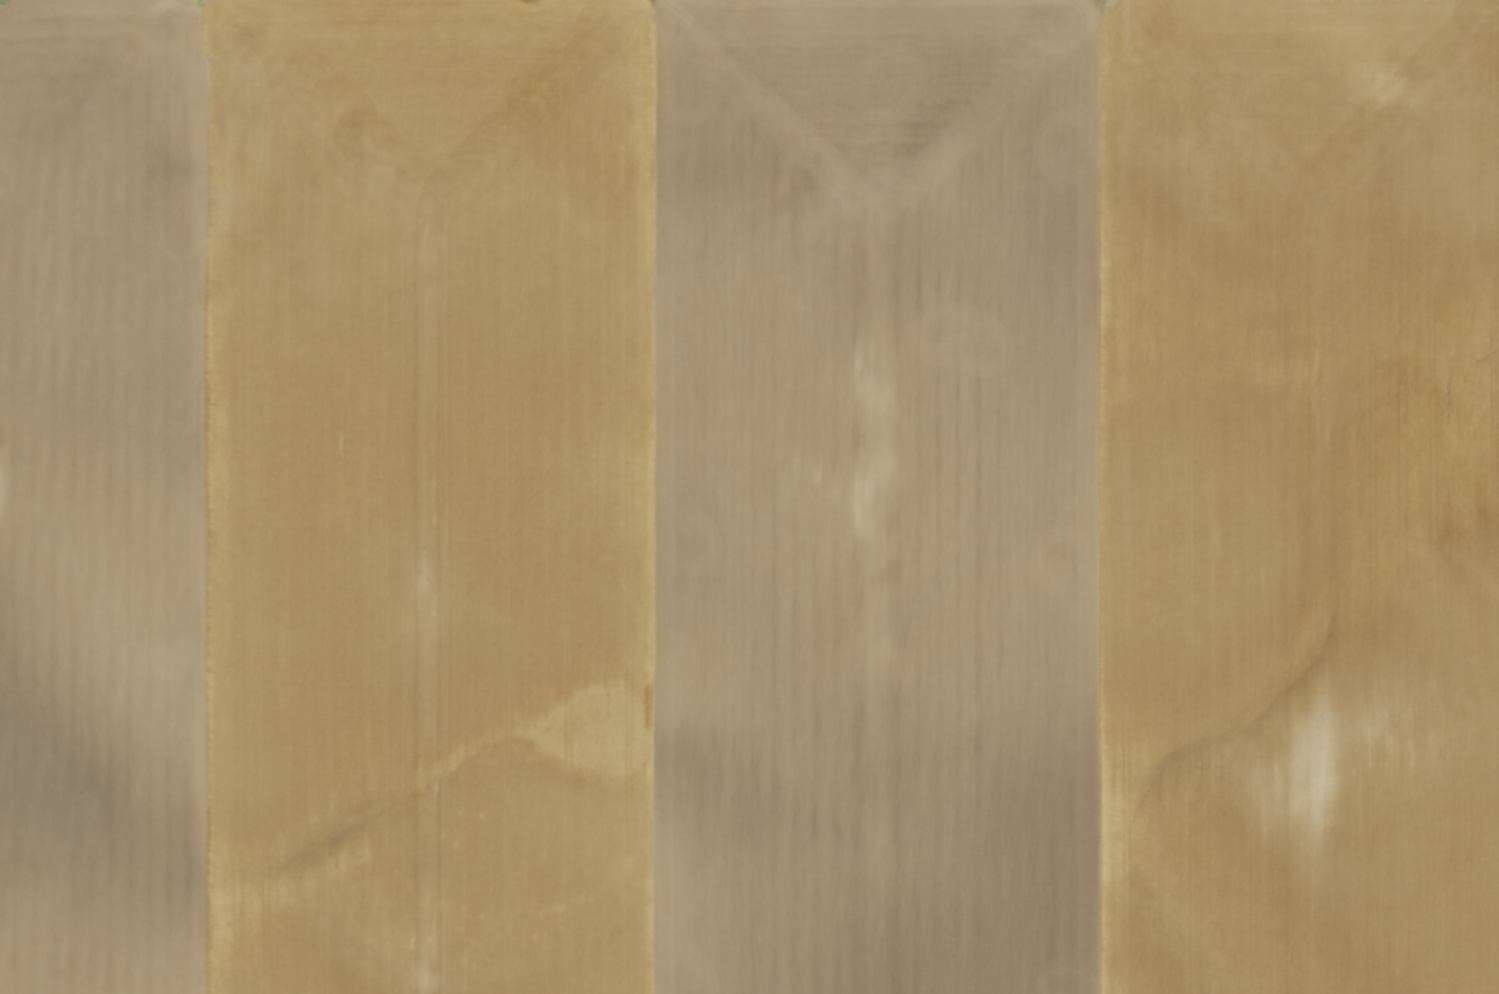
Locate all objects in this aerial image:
crop: (749, 497)

